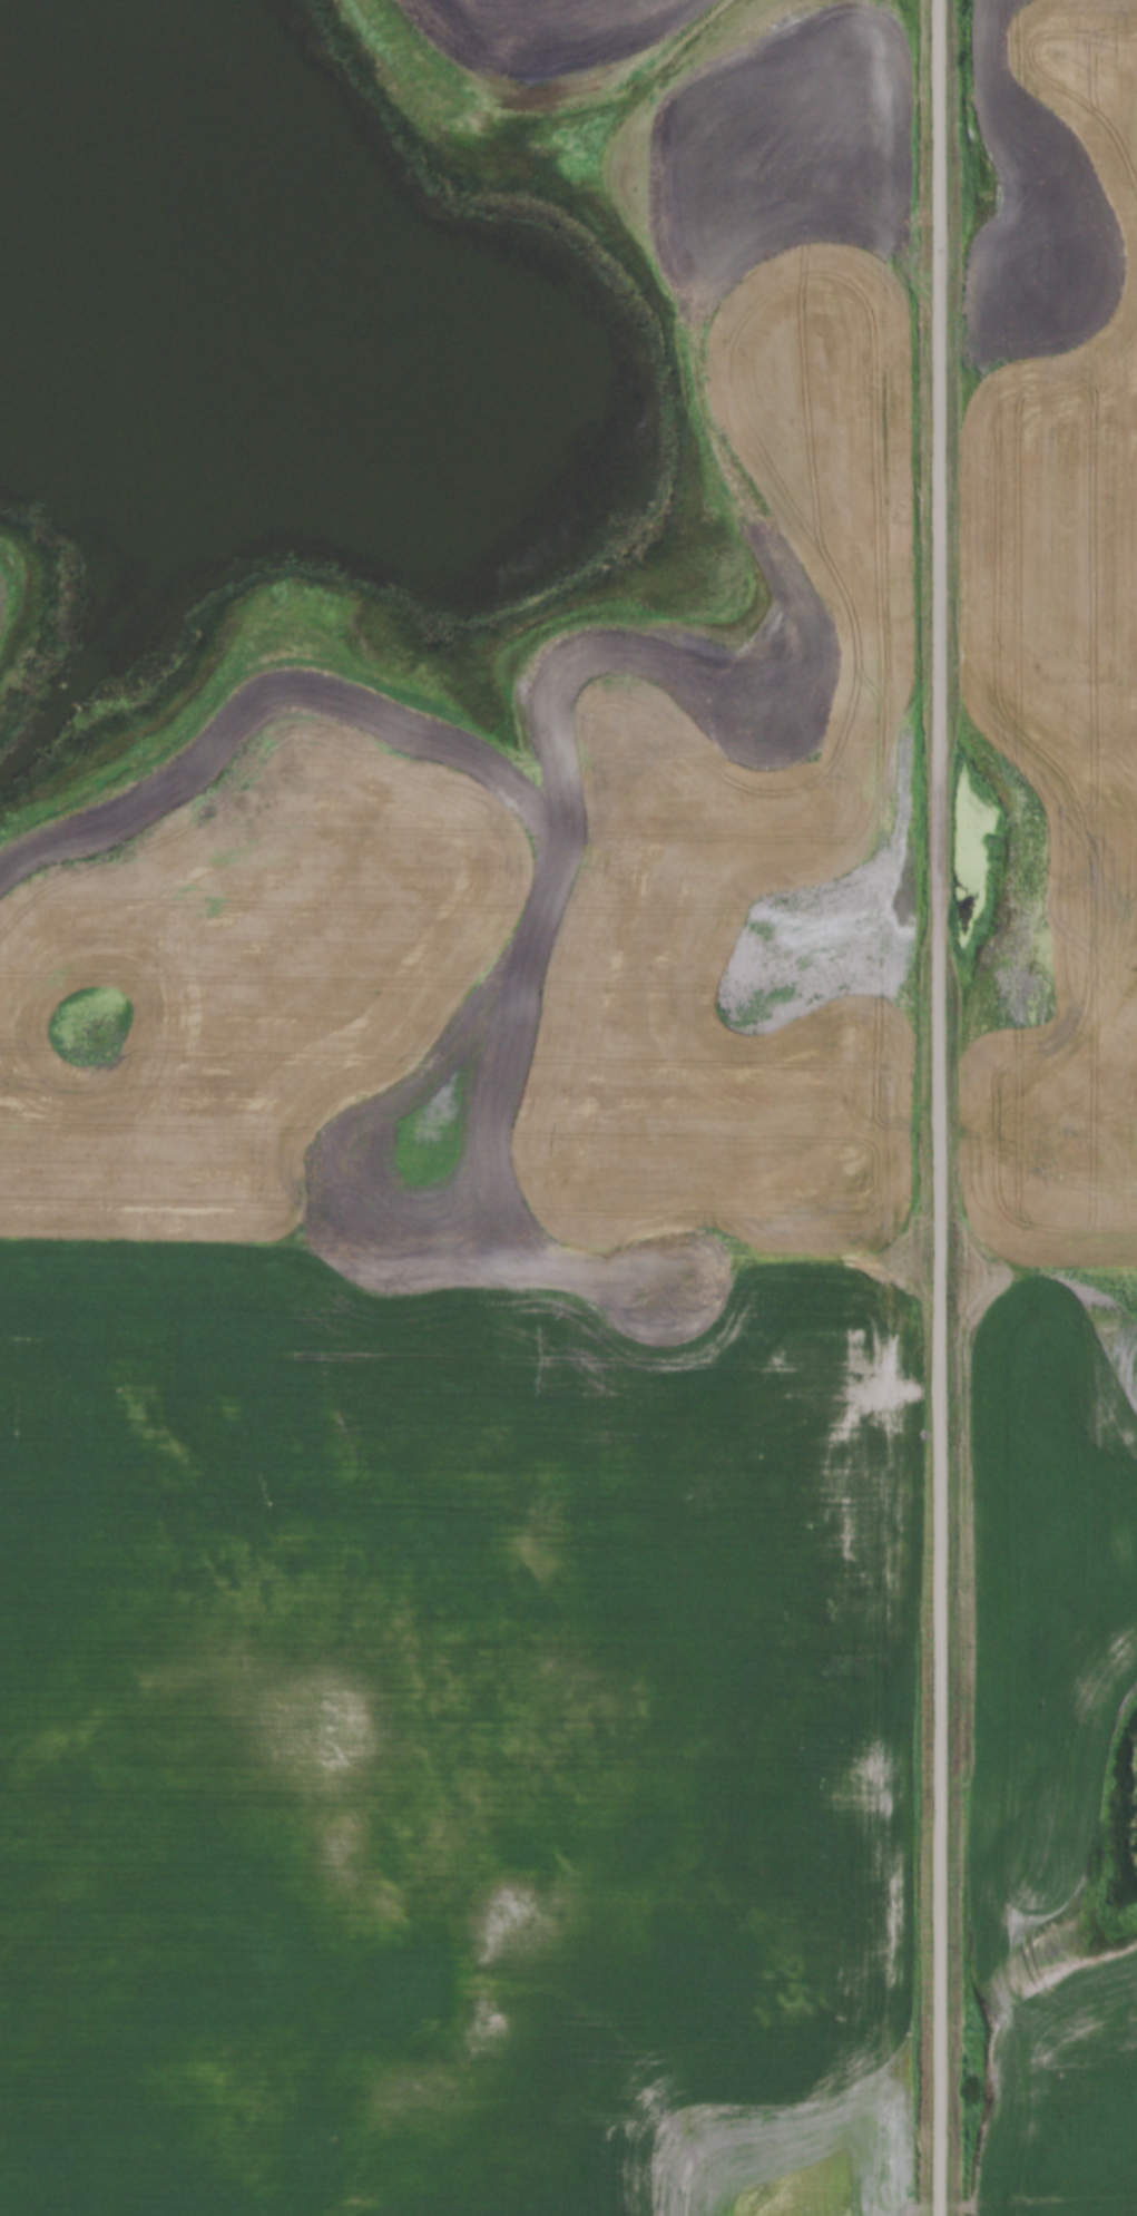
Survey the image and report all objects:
road: (940, 1107)

